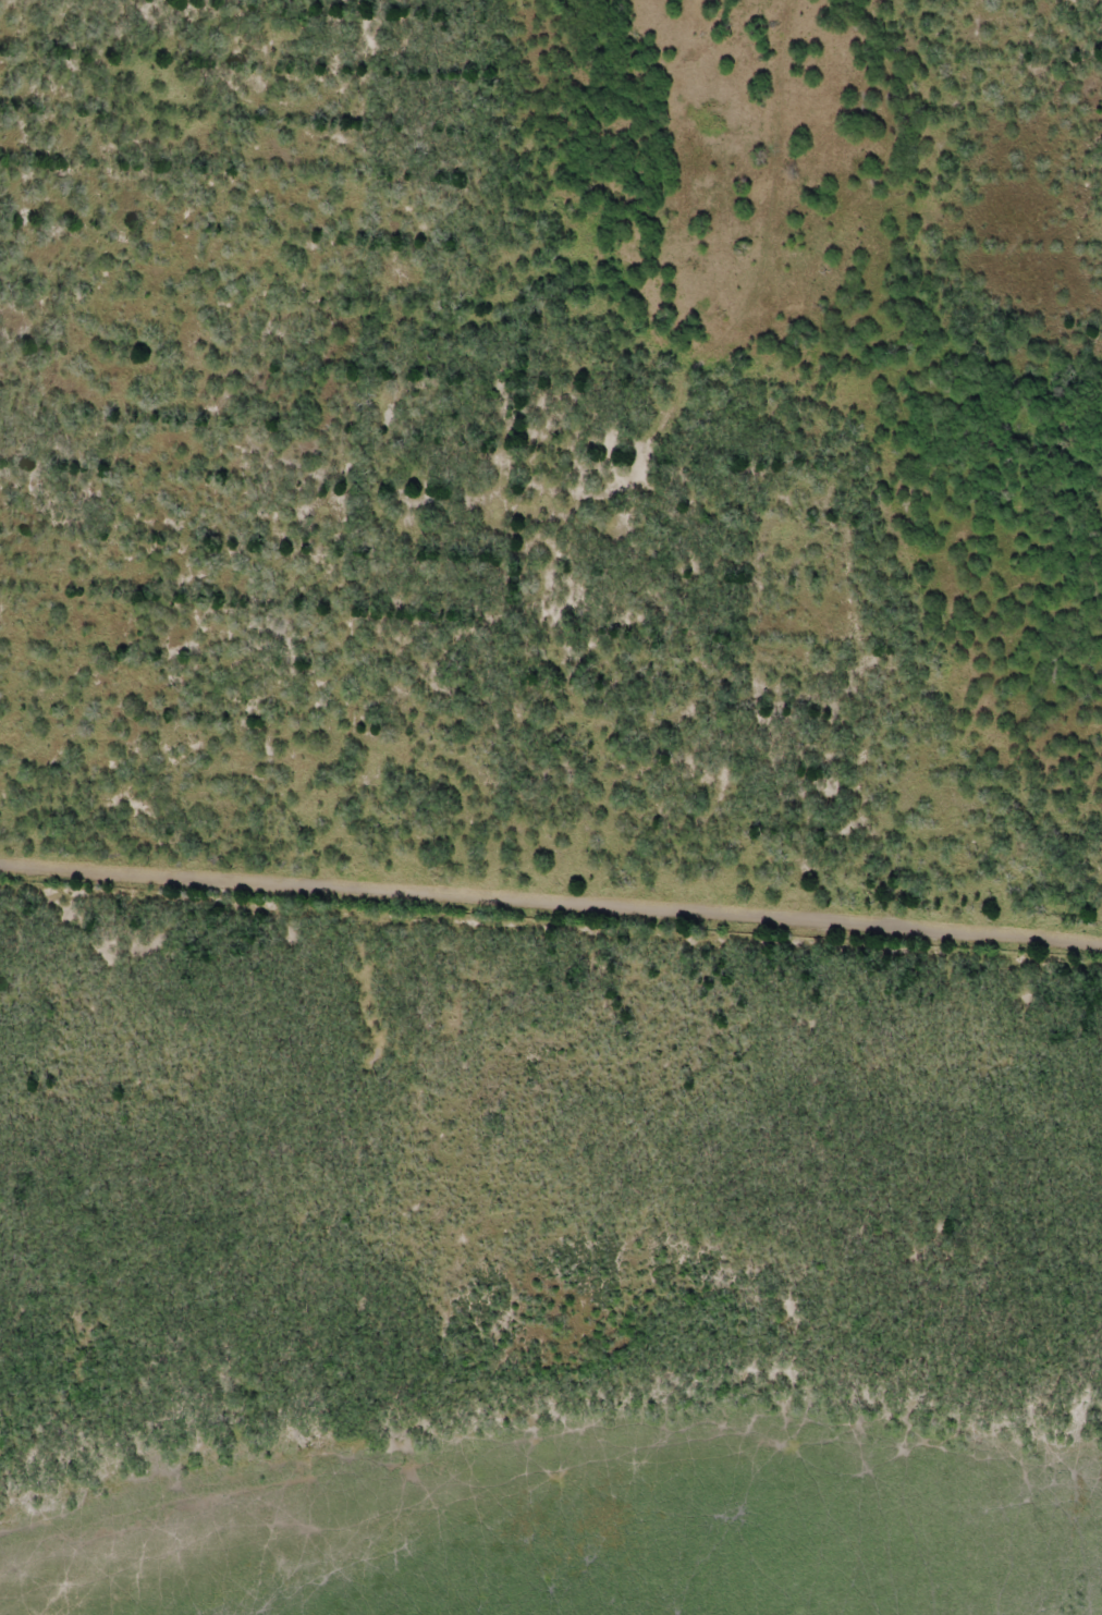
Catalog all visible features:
road: (940, 658)
road: (550, 920)

